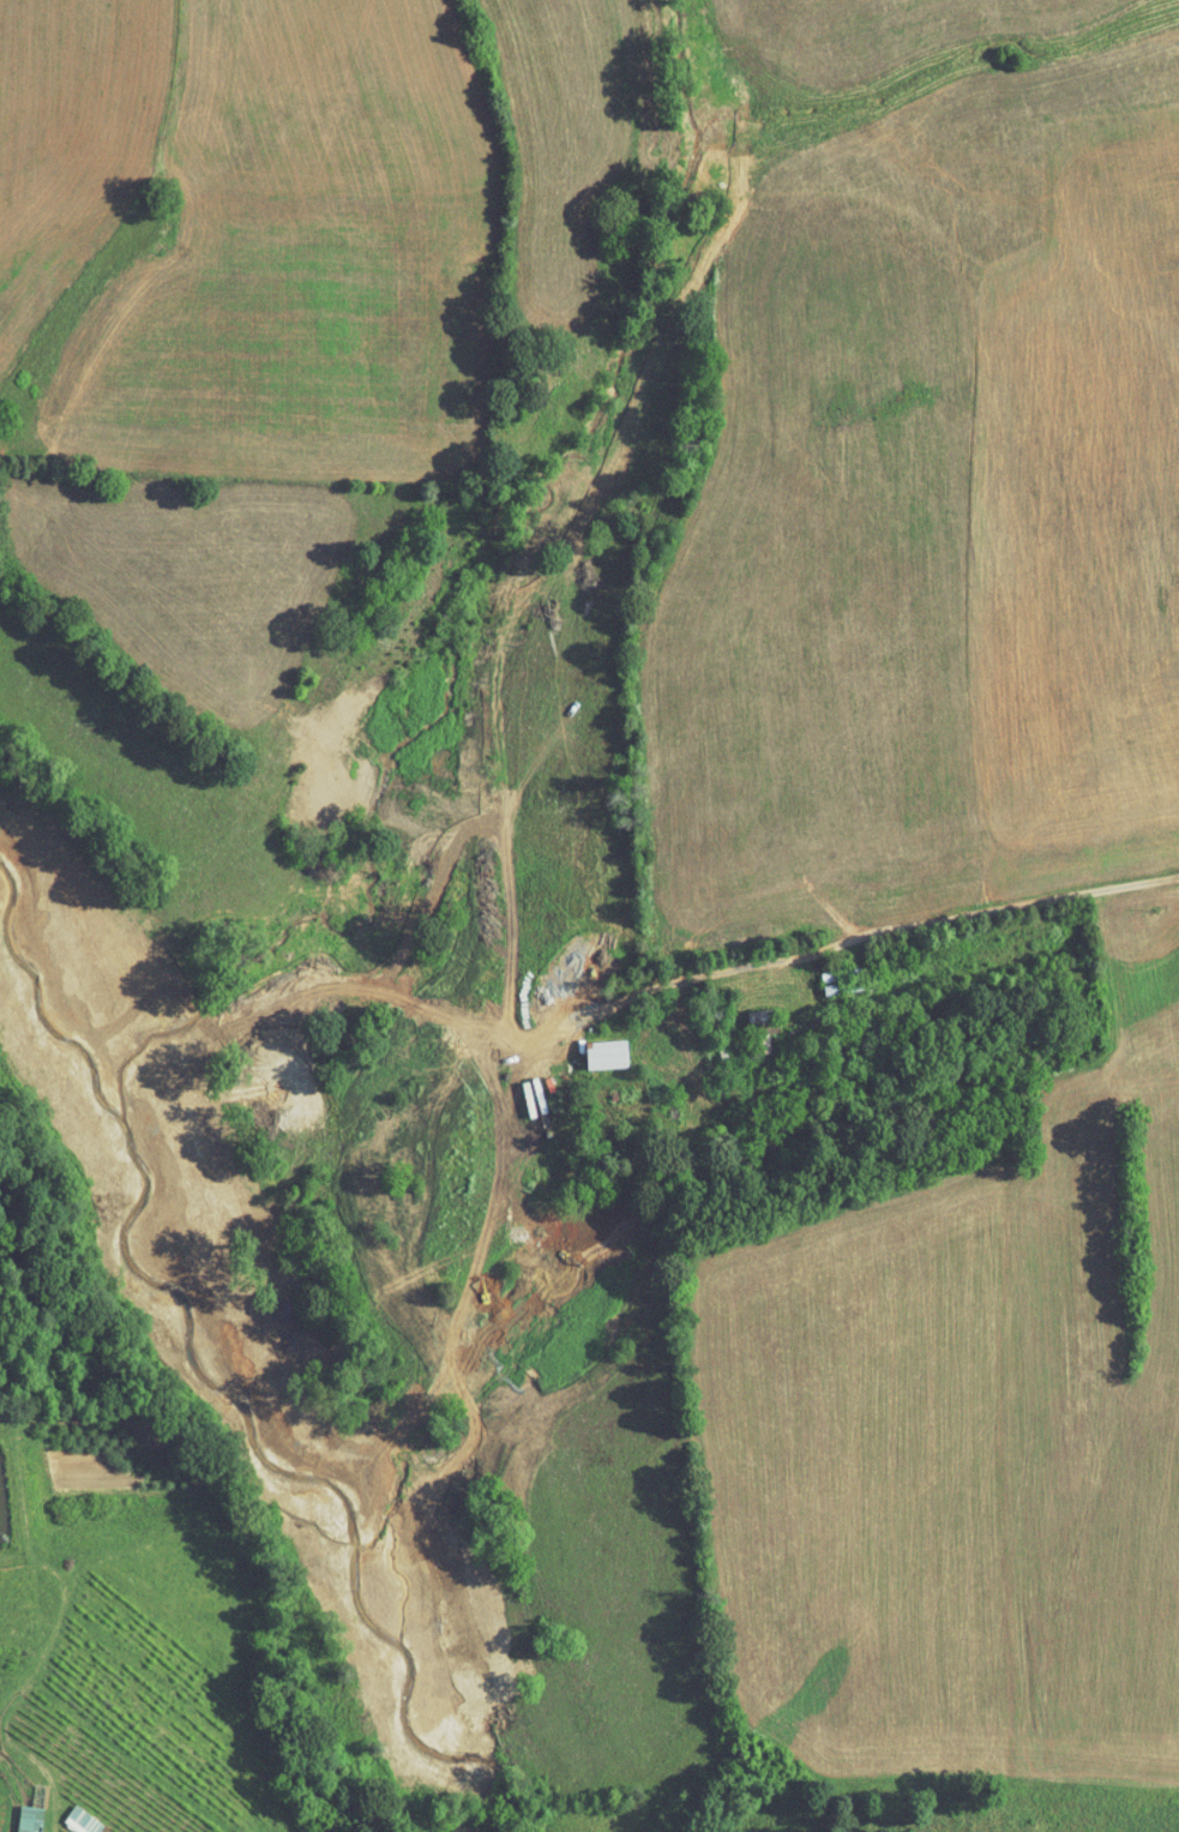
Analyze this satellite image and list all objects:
road: (1012, 913)
building: (818, 975)
building: (594, 1047)
building: (16, 1815)
building: (70, 1815)

